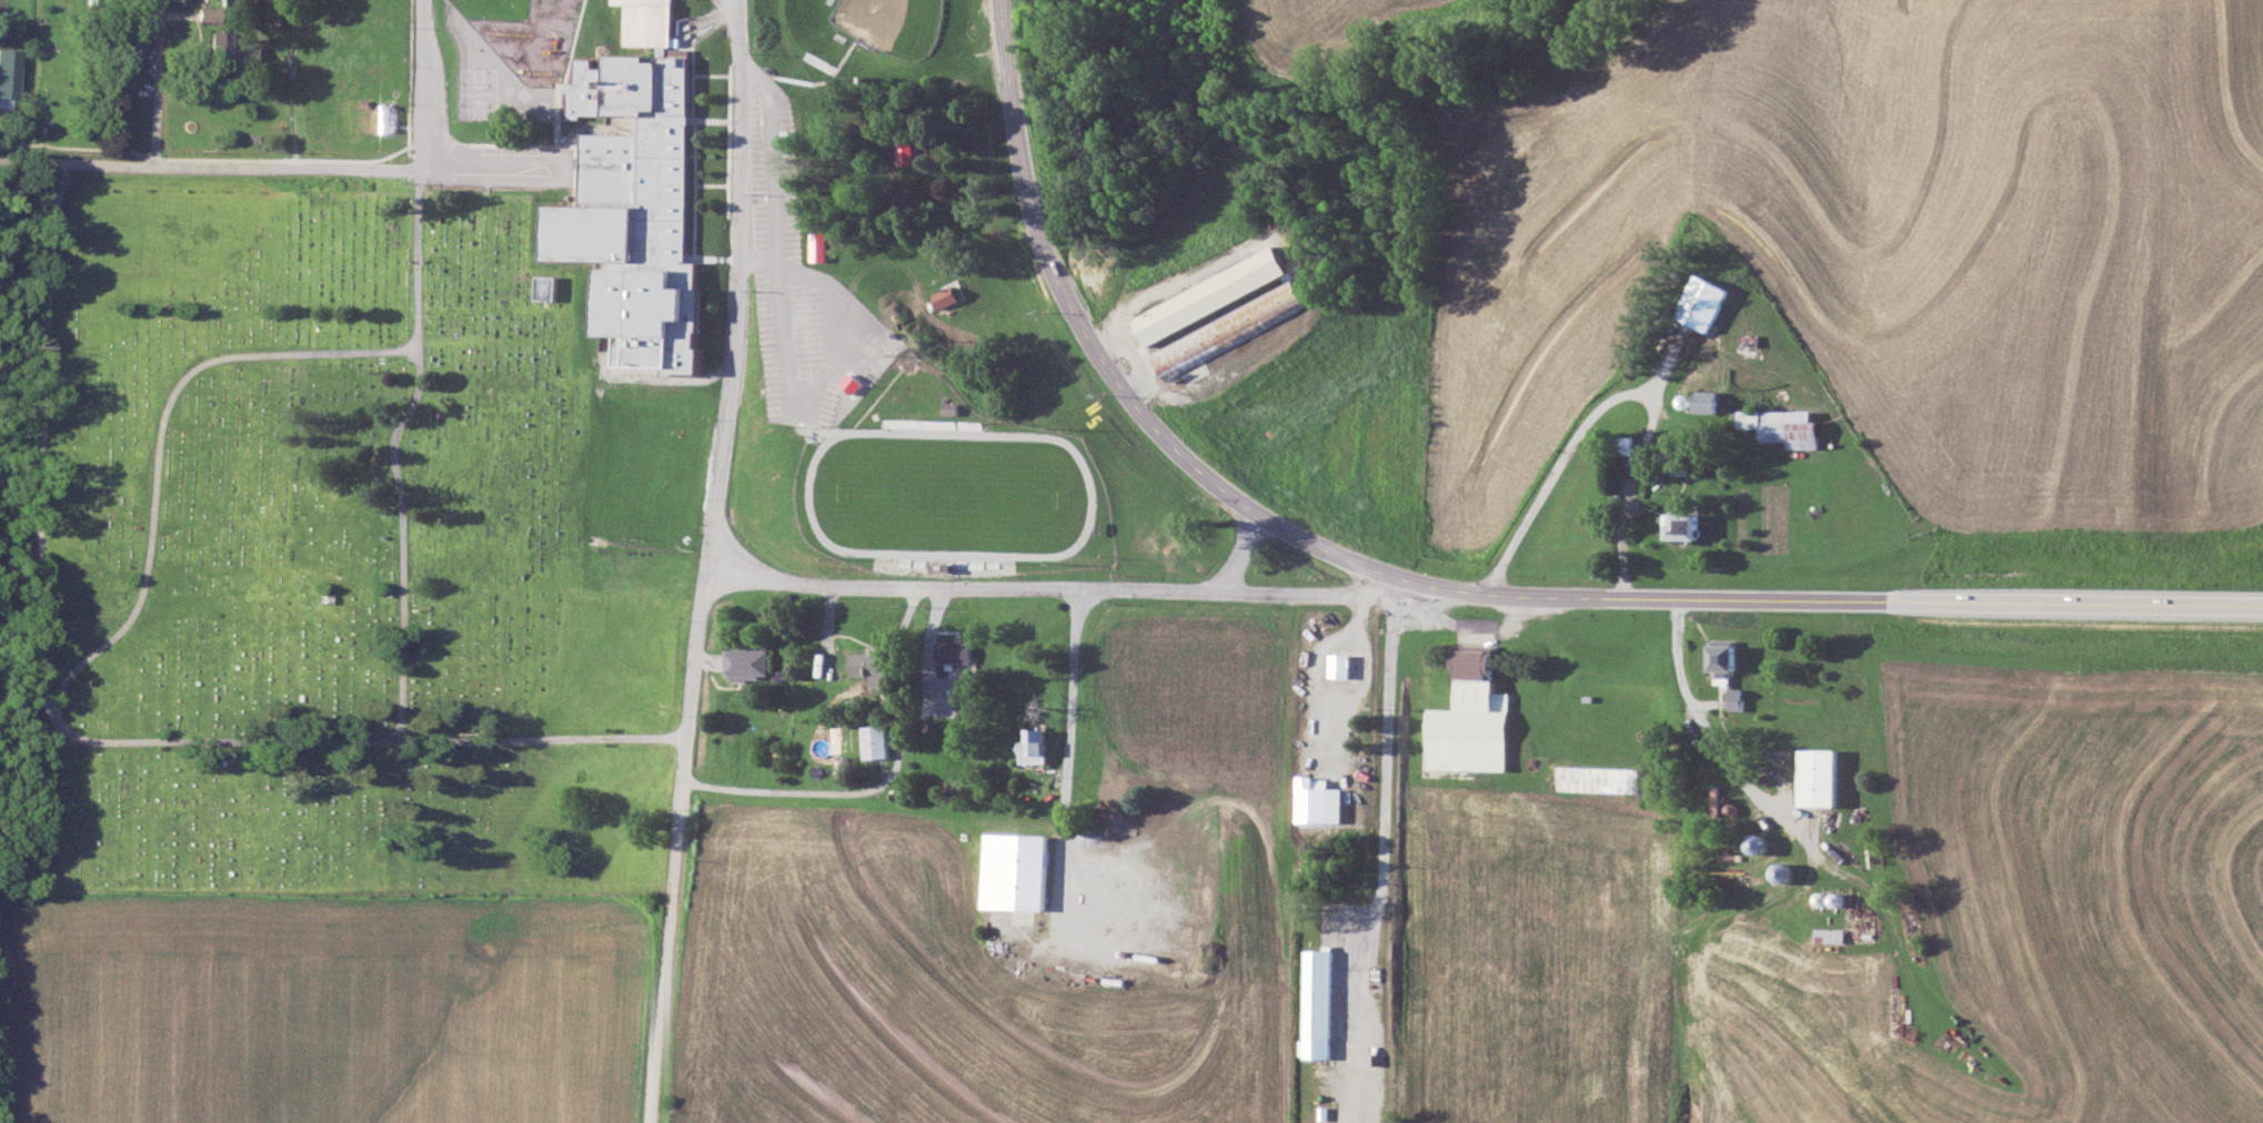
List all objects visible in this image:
building: (132, 51)
building: (386, 77)
road: (155, 83)
road: (290, 83)
road: (419, 84)
building: (194, 102)
building: (388, 118)
building: (907, 151)
road: (495, 161)
road: (208, 166)
building: (638, 196)
building: (819, 246)
building: (946, 297)
building: (1704, 303)
building: (1224, 311)
road: (1621, 394)
building: (1709, 402)
building: (1751, 419)
building: (1799, 429)
road: (392, 451)
building: (1688, 526)
park: (342, 547)
road: (1236, 549)
road: (705, 561)
road: (1047, 586)
road: (1452, 587)
road: (1478, 624)
building: (1729, 656)
building: (744, 662)
building: (868, 665)
building: (1341, 665)
road: (1687, 680)
building: (1738, 697)
building: (1523, 708)
building: (1472, 718)
road: (61, 721)
road: (1072, 721)
building: (875, 741)
building: (1034, 746)
building: (1820, 778)
building: (1593, 779)
road: (885, 787)
road: (1389, 796)
building: (1315, 805)
building: (1013, 871)
building: (1318, 1004)

